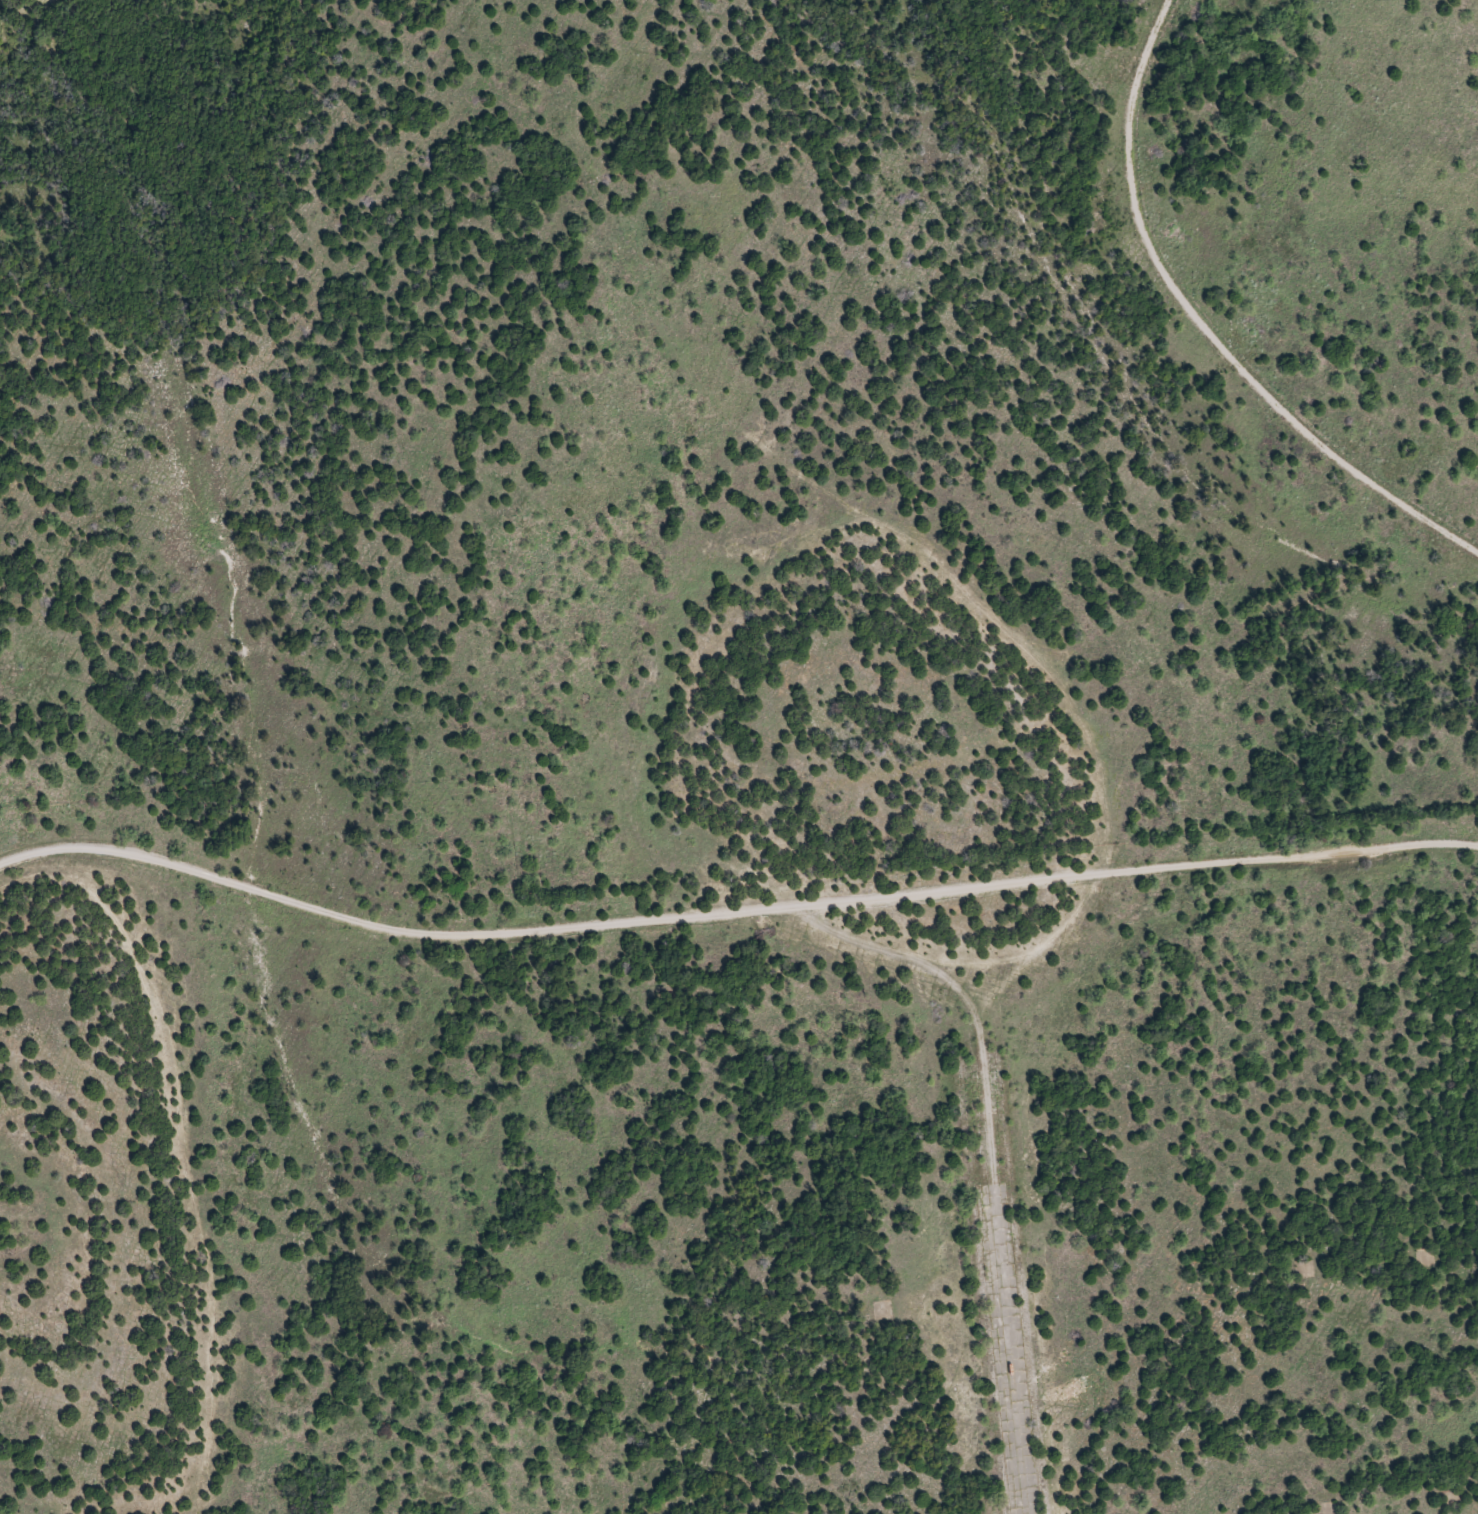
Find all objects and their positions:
road: (732, 911)
road: (1037, 949)
road: (991, 1153)

